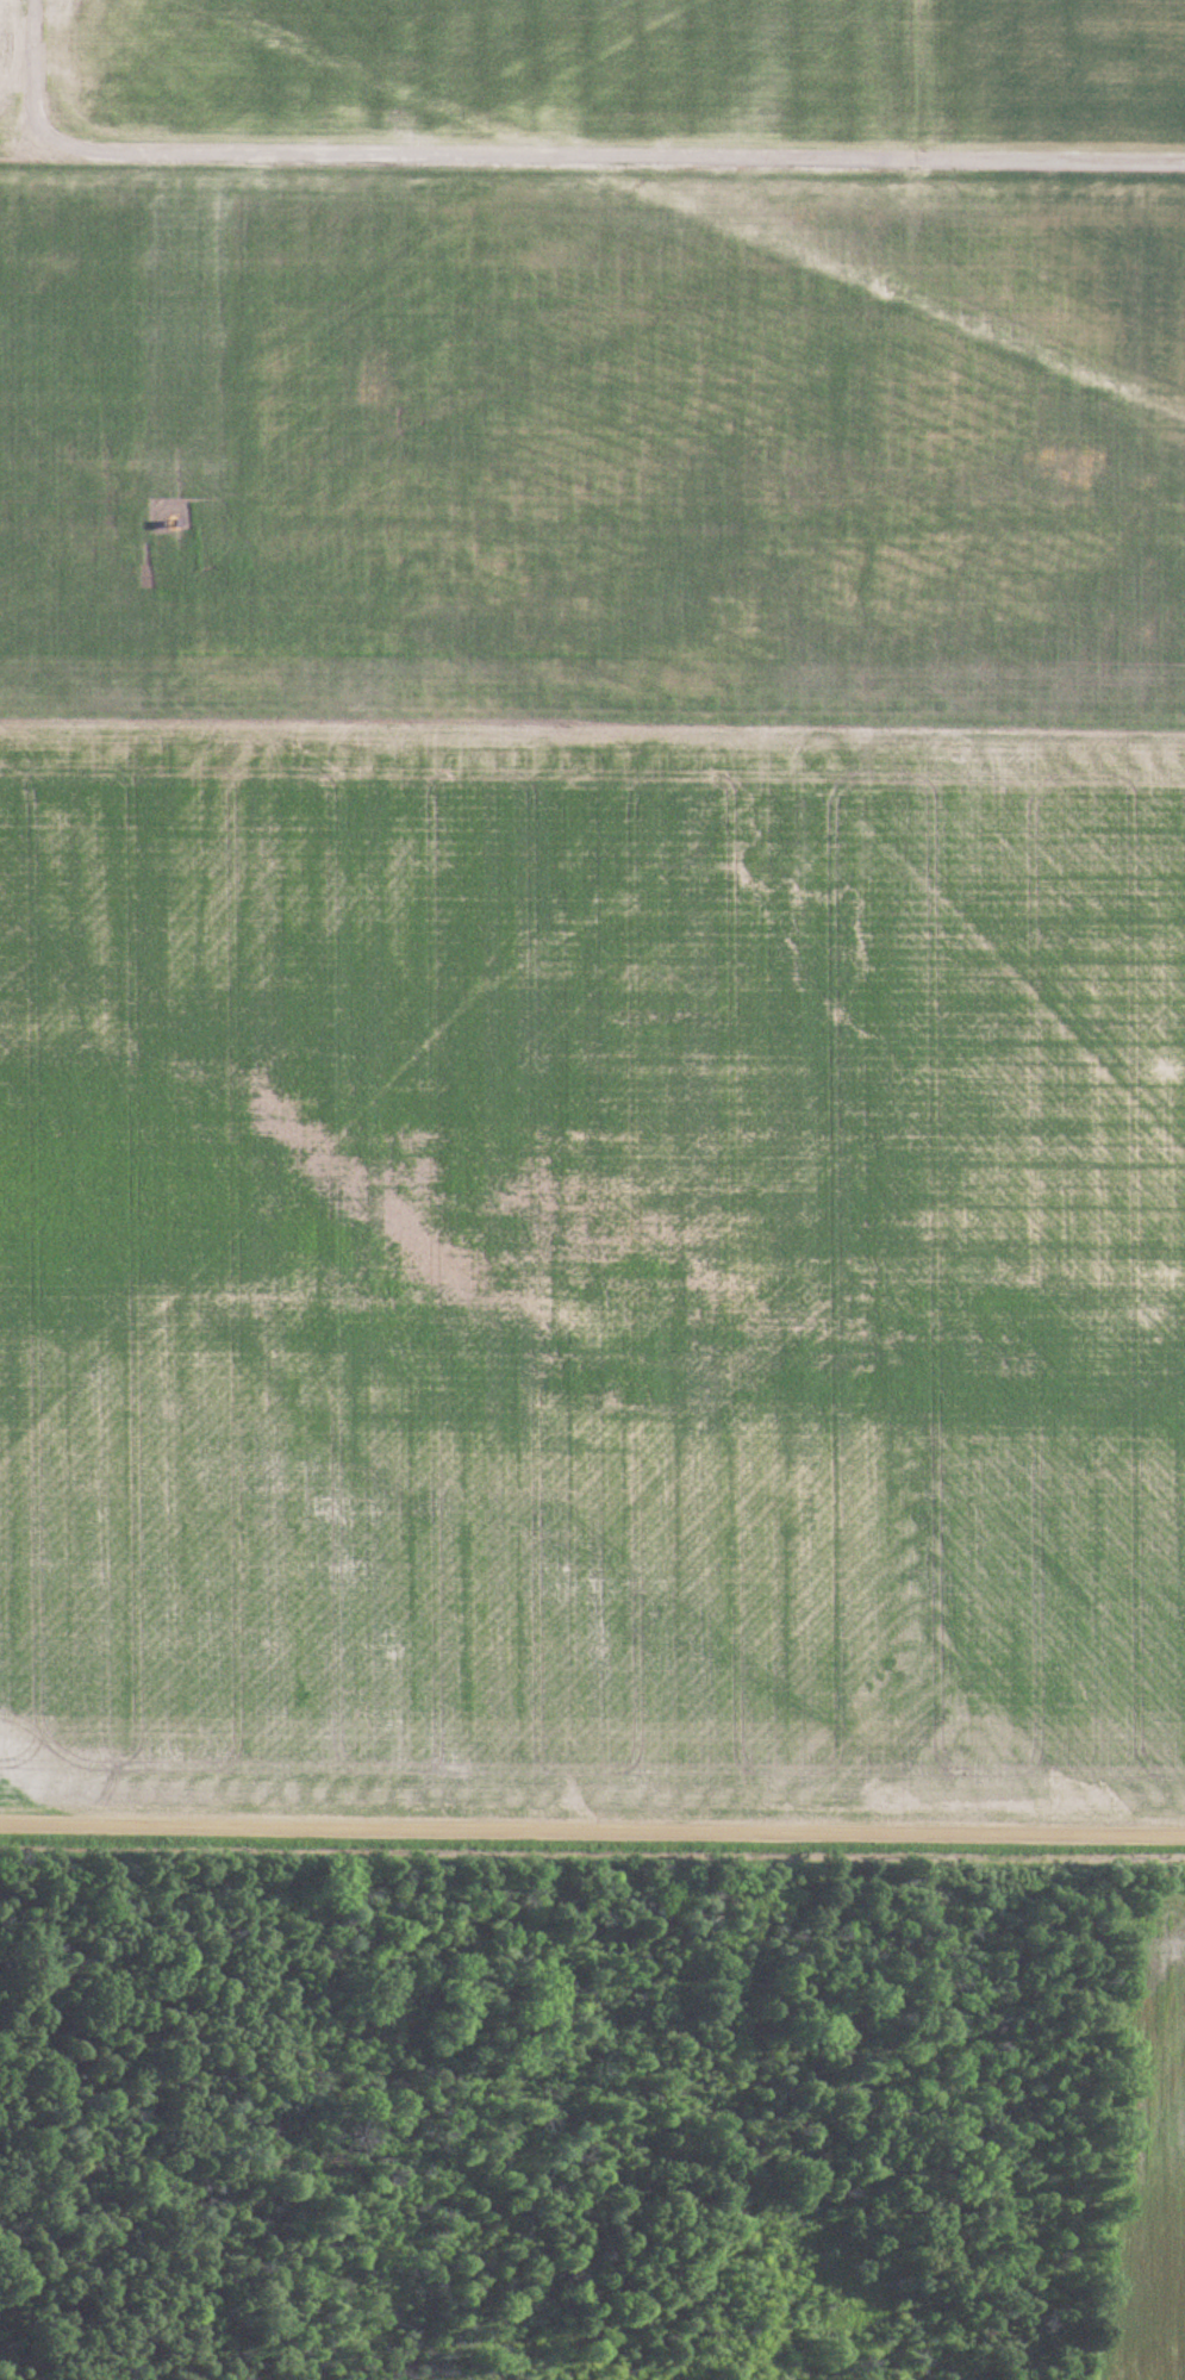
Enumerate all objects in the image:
road: (592, 1833)

